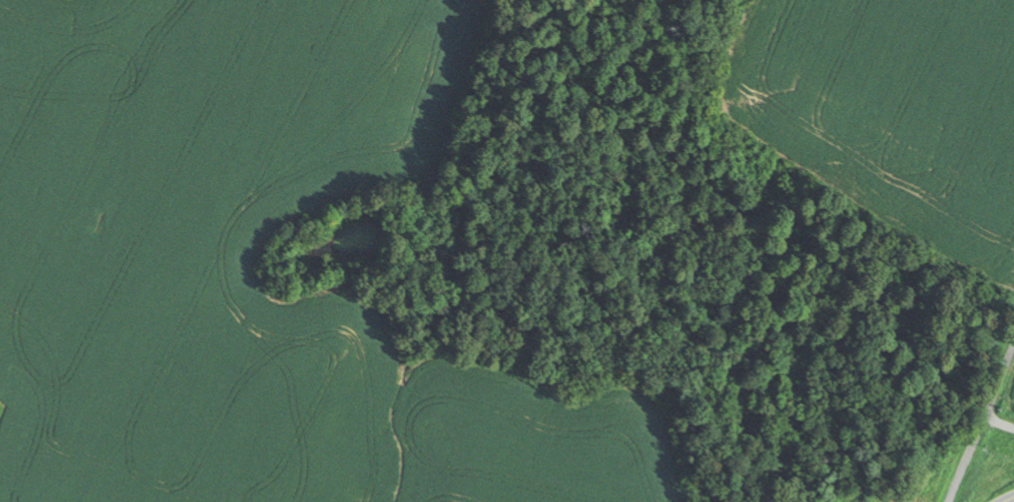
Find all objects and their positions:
road: (1000, 423)
road: (983, 425)
road: (1008, 499)

